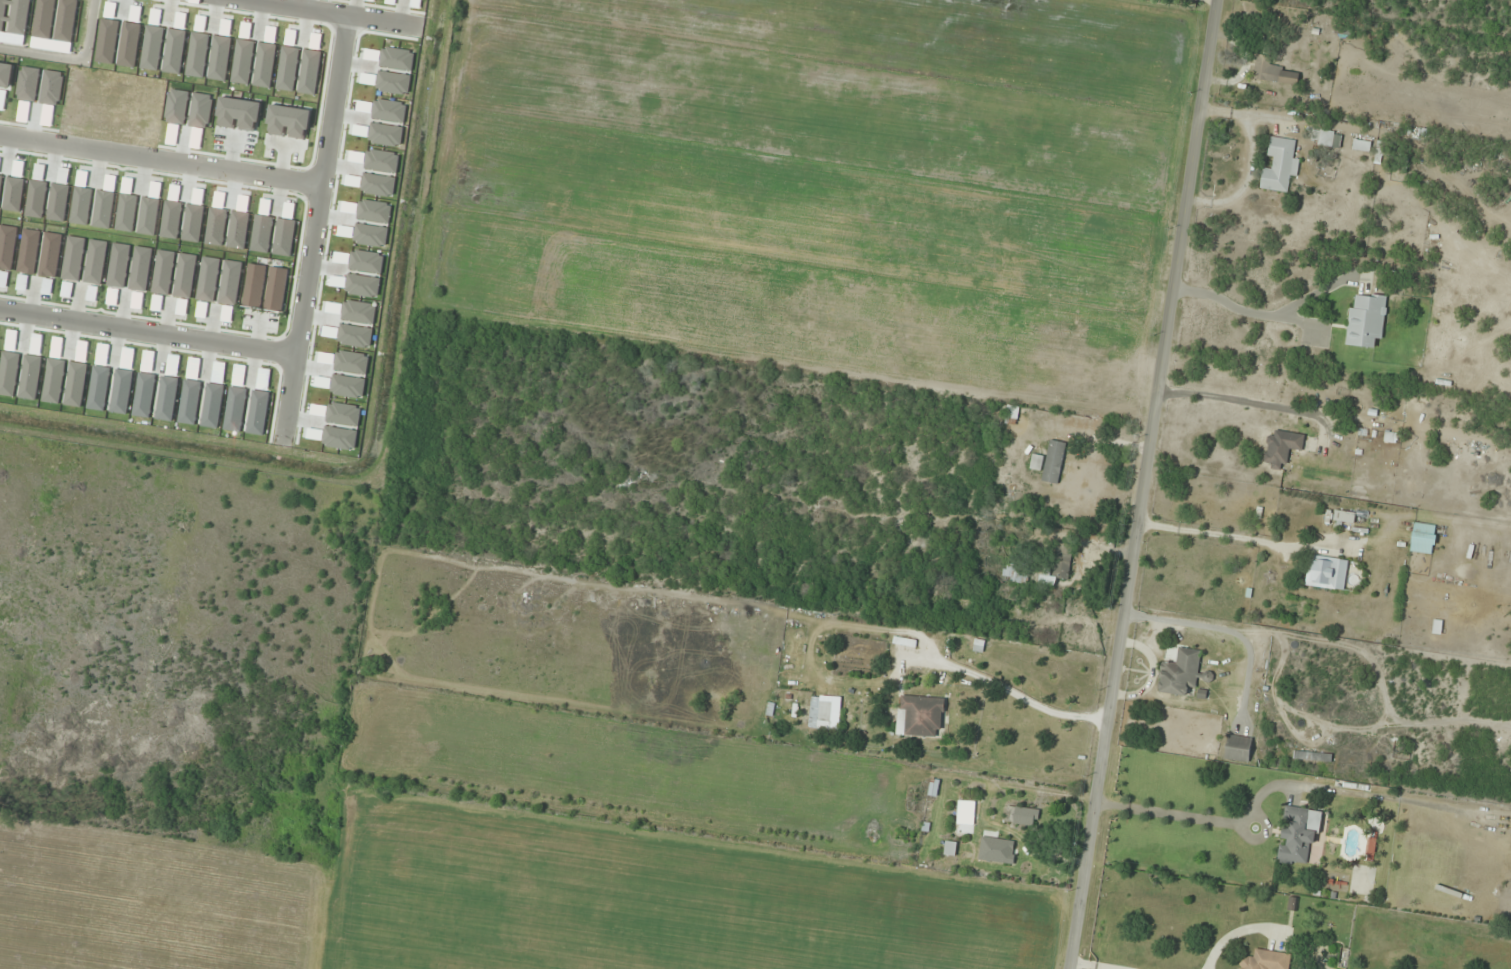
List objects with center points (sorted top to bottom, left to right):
road: (321, 14)
road: (72, 58)
building: (1273, 72)
building: (1326, 138)
building: (1362, 146)
building: (1381, 152)
road: (160, 159)
building: (1280, 165)
road: (314, 226)
building: (1366, 320)
road: (147, 334)
building: (1281, 447)
building: (1053, 462)
road: (1144, 484)
building: (1344, 516)
building: (1424, 538)
building: (1062, 560)
building: (1016, 573)
building: (1326, 573)
building: (1182, 673)
building: (820, 713)
building: (920, 716)
building: (1238, 748)
building: (1312, 756)
building: (965, 812)
building: (1022, 816)
building: (1298, 833)
building: (997, 850)
building: (1266, 960)

